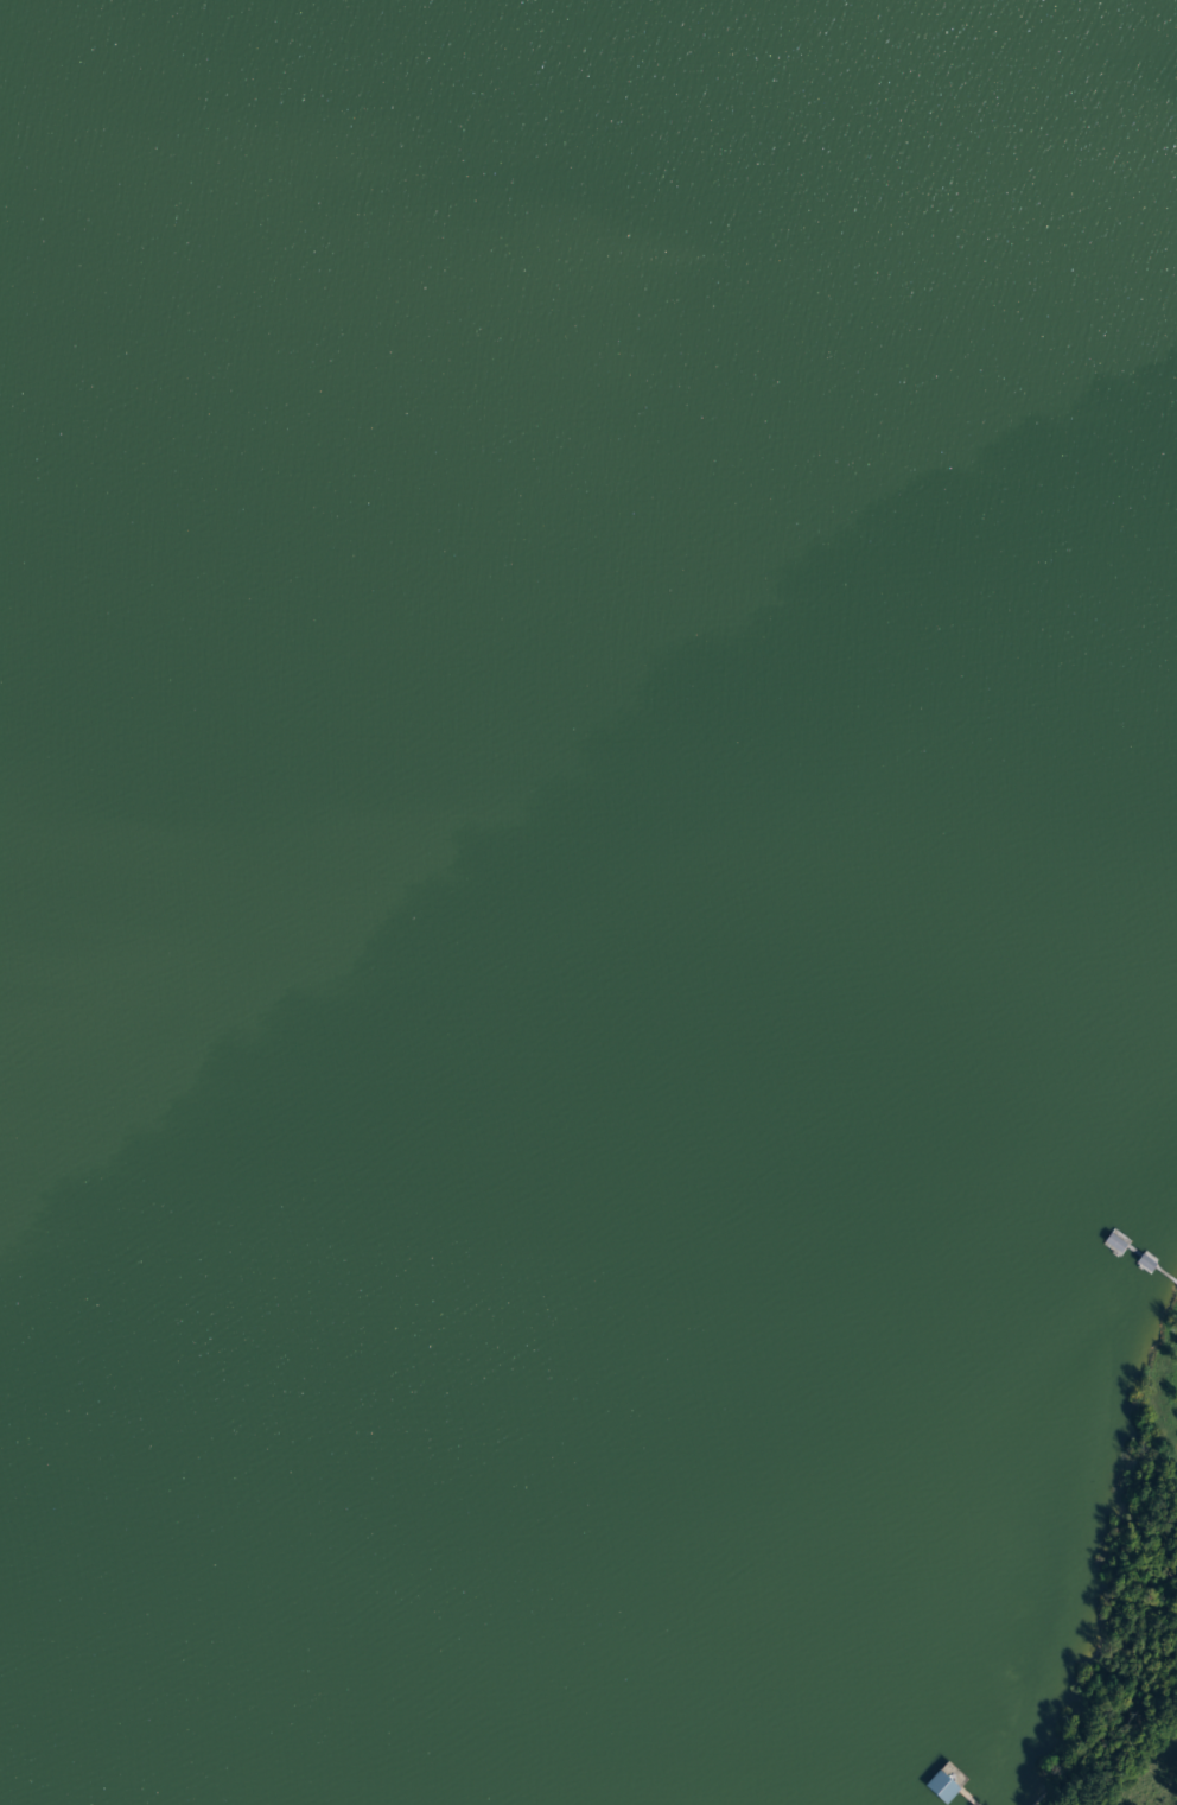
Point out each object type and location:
building: (1147, 1263)

